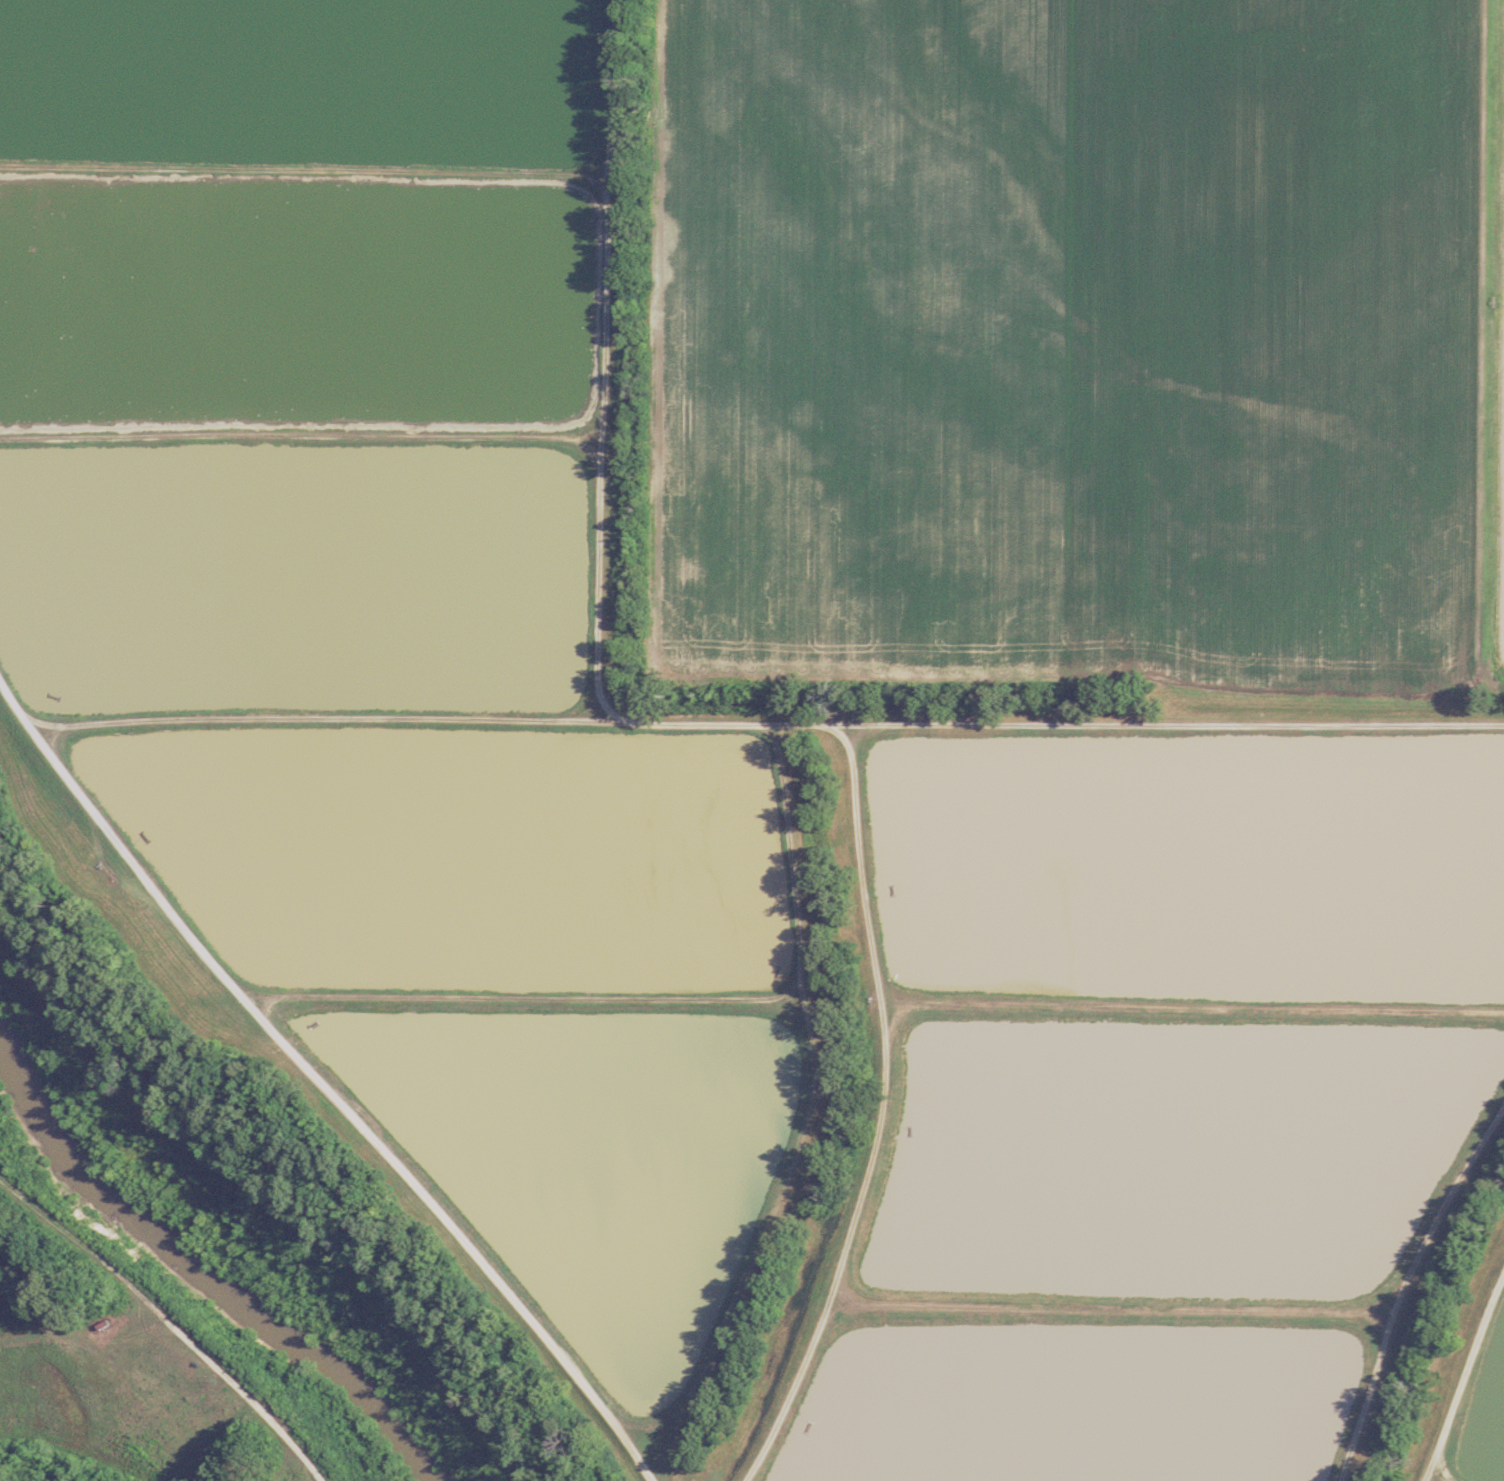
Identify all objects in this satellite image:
road: (173, 1317)

